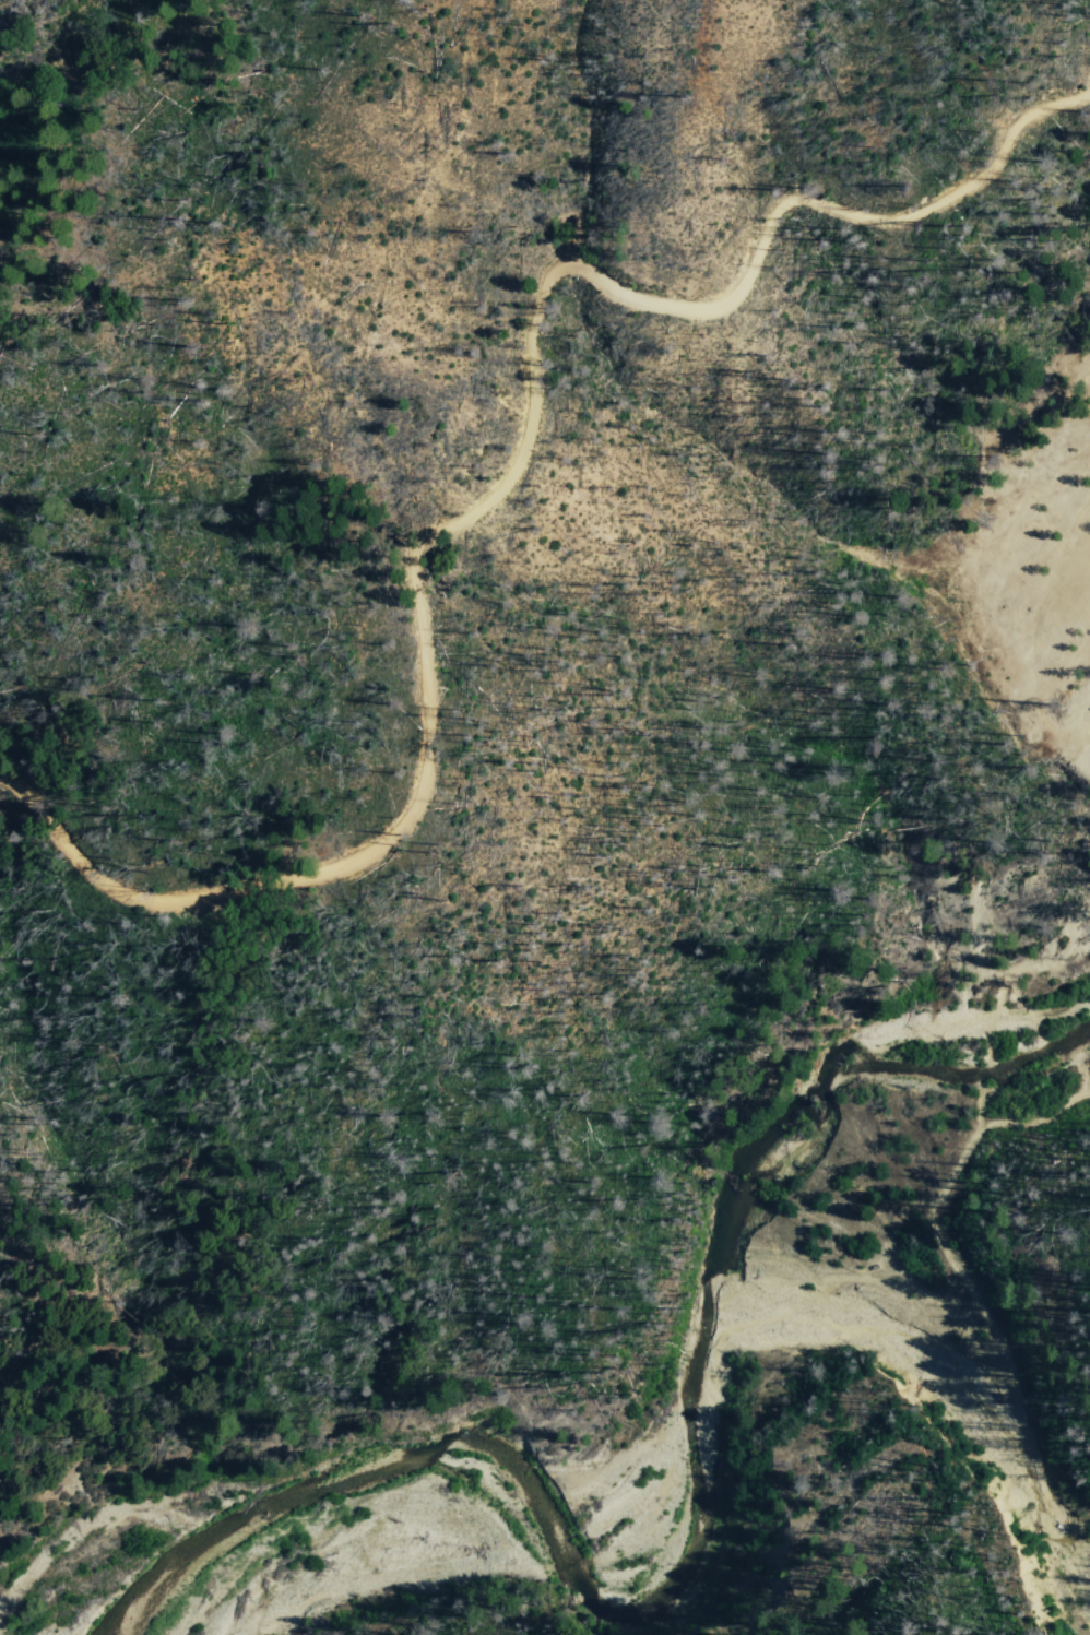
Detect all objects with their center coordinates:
road: (507, 477)

